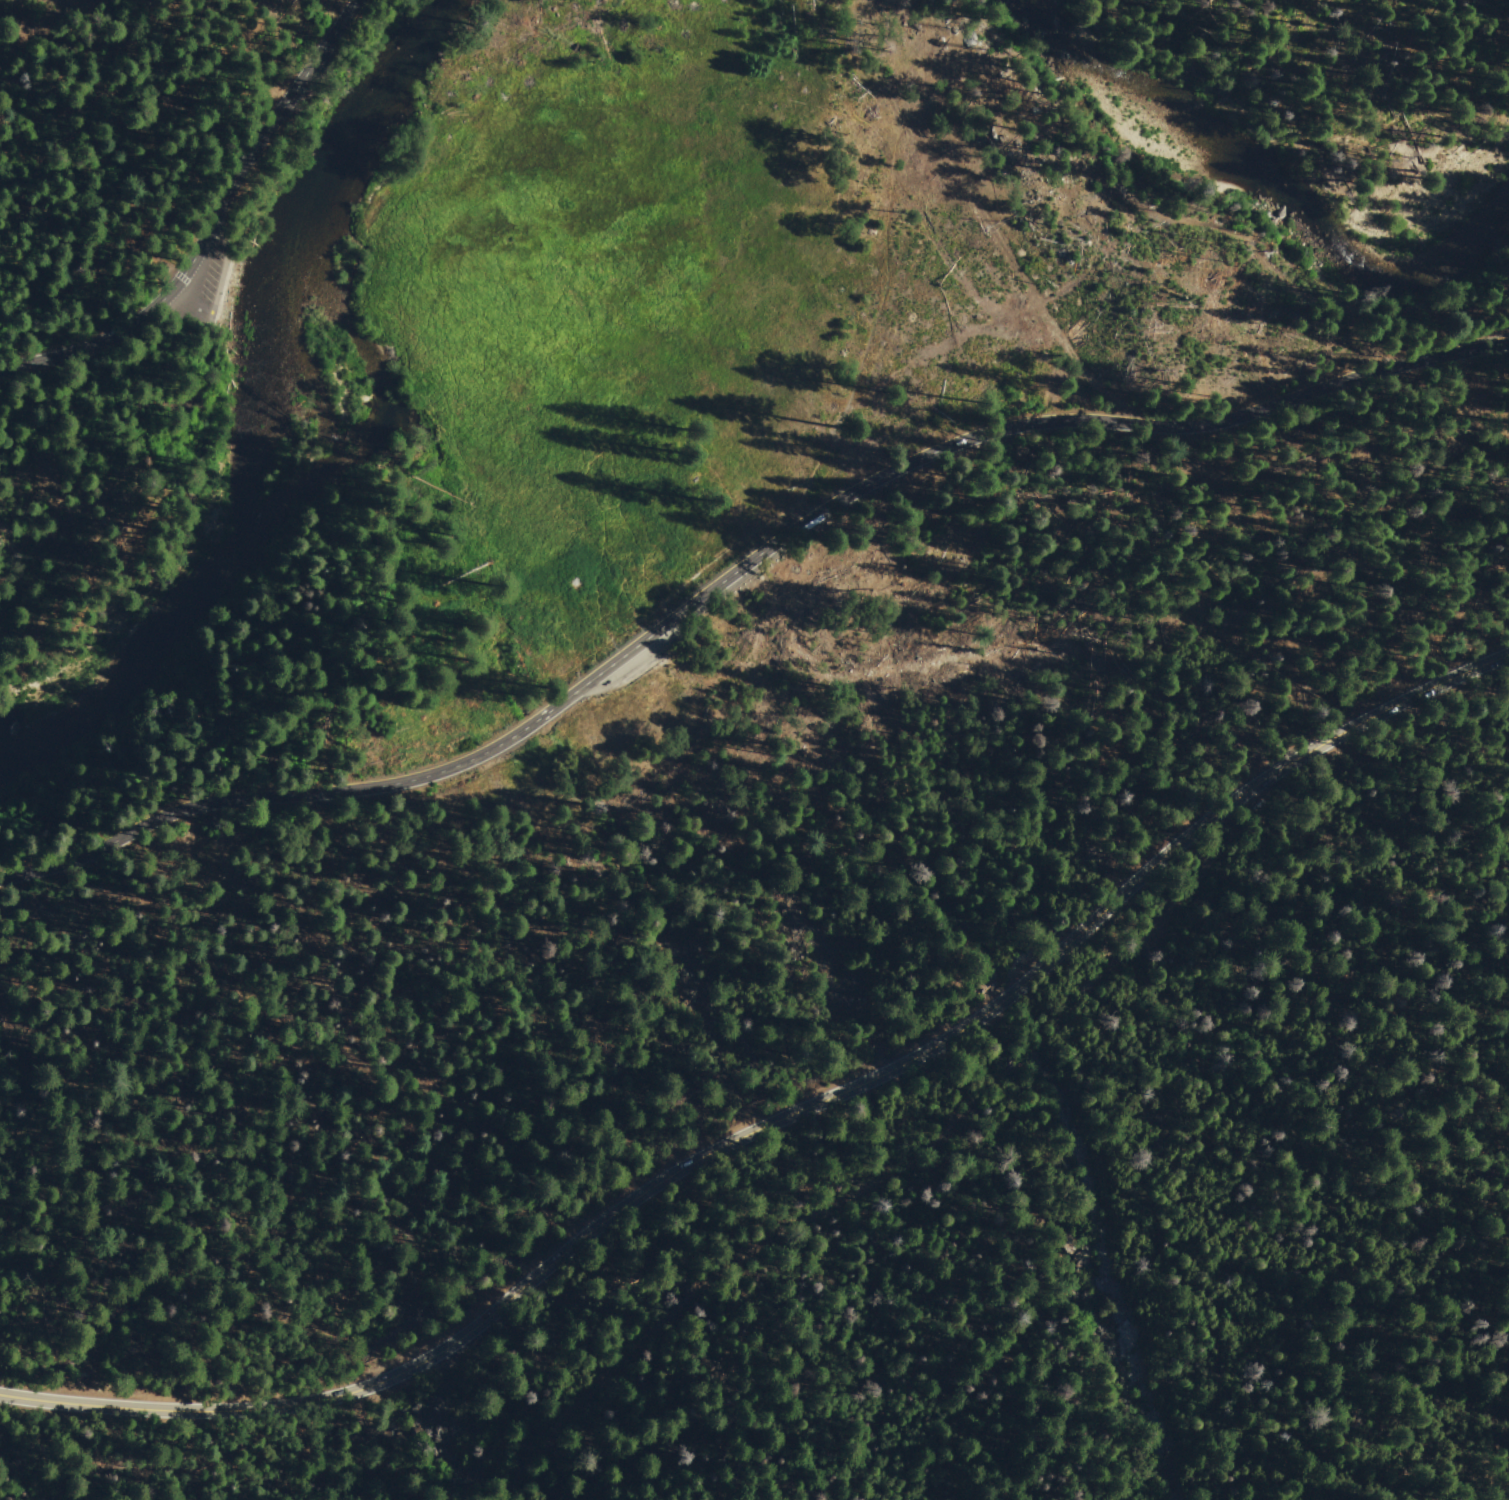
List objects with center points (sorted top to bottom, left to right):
road: (152, 102)
river: (1271, 176)
road: (210, 224)
road: (166, 263)
parking lot: (203, 280)
road: (1439, 356)
river: (260, 418)
road: (840, 422)
road: (682, 615)
road: (782, 1118)
road: (889, 1182)

